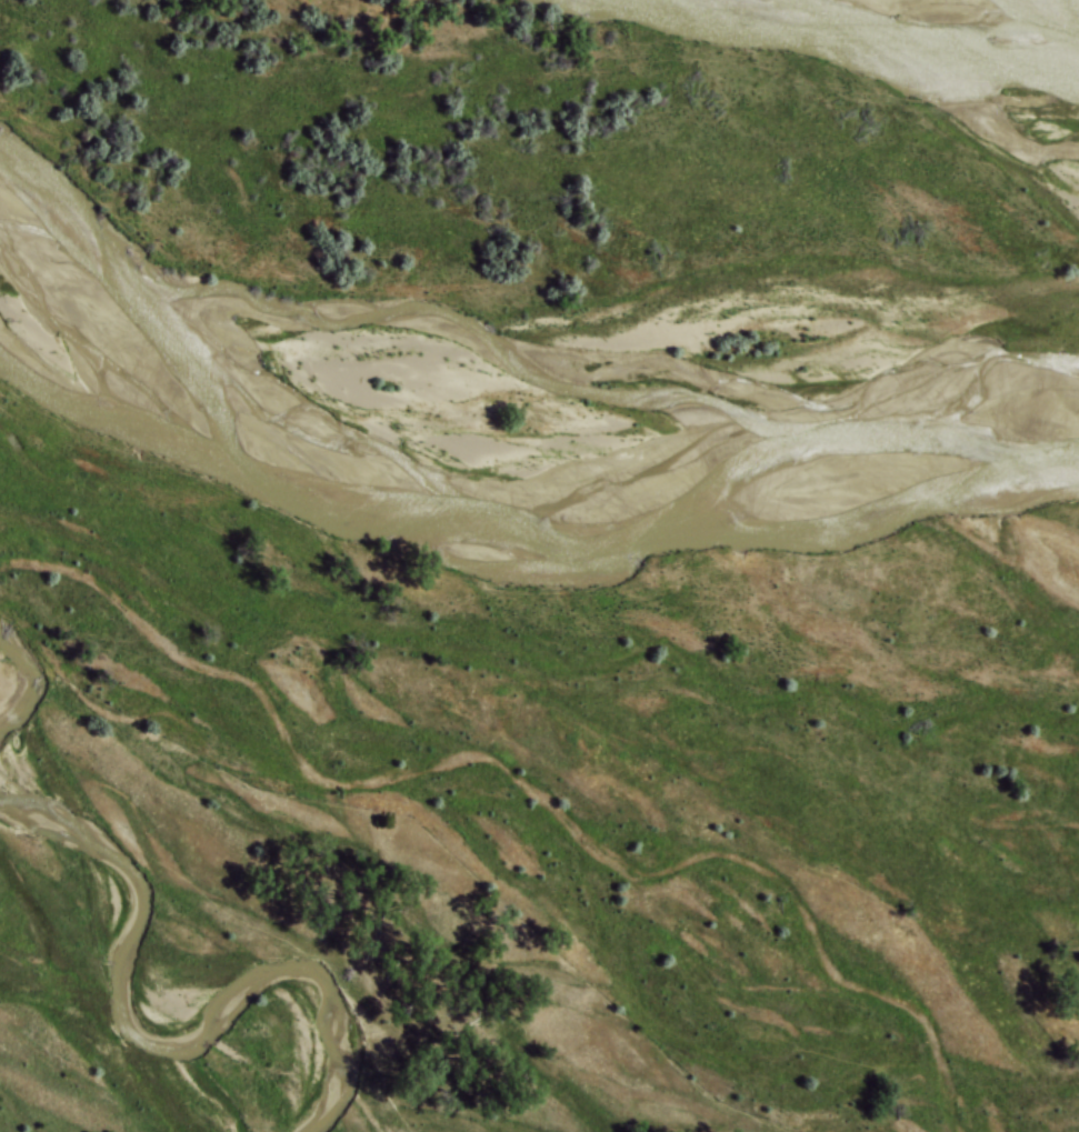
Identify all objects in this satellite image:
river: (499, 512)

